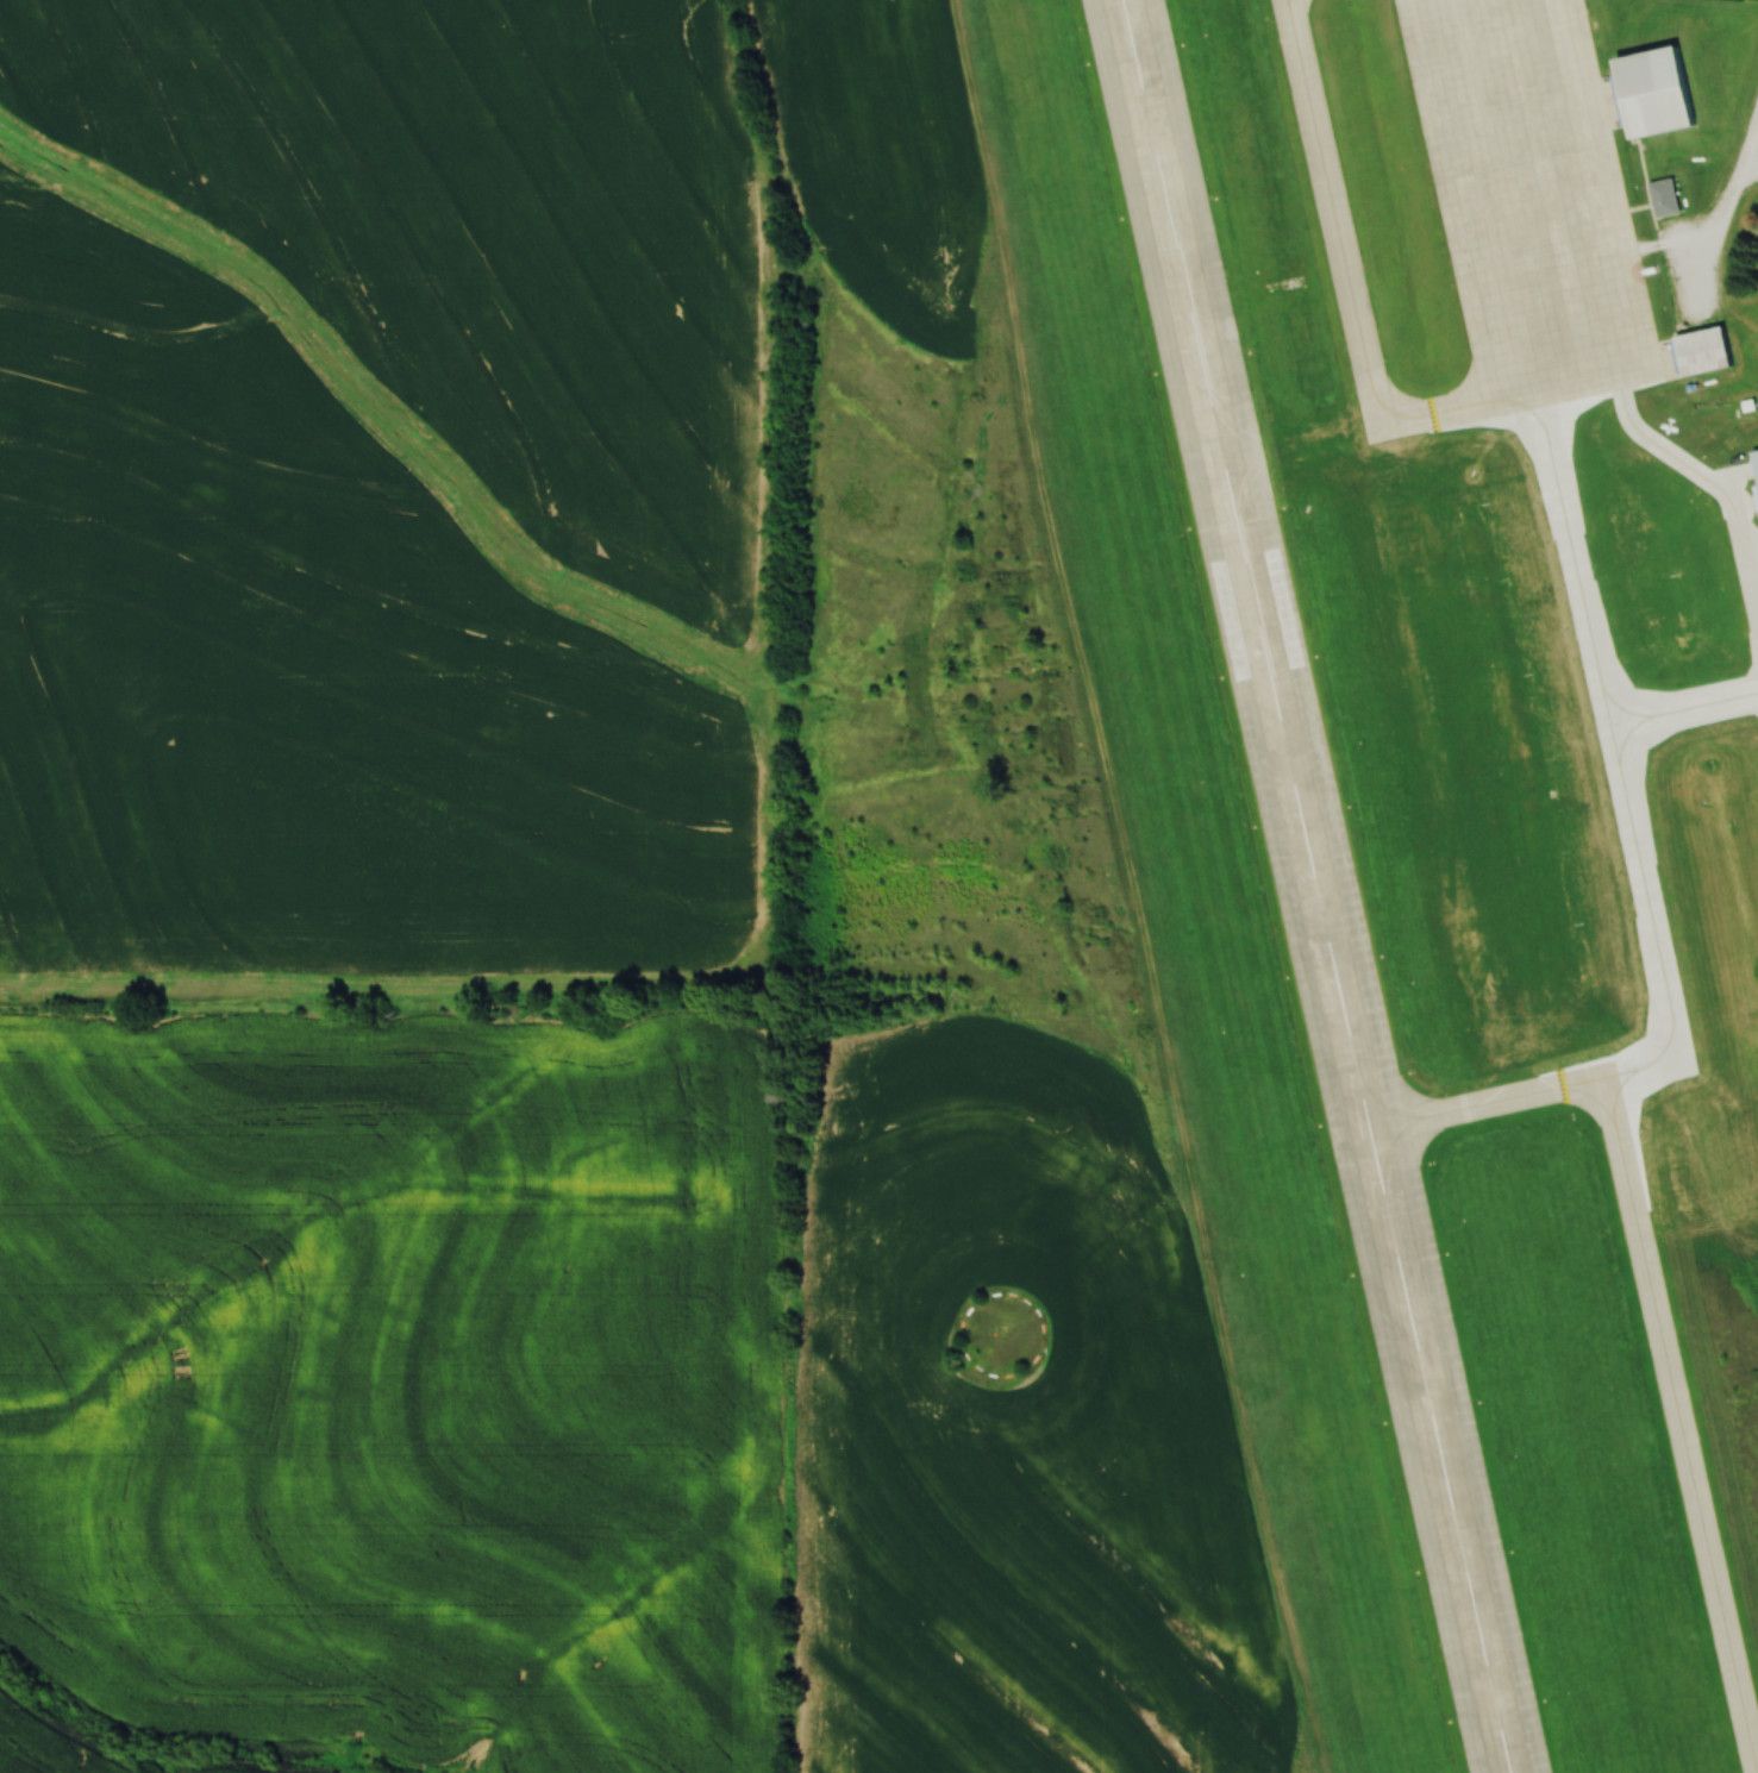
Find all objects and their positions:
airport hangar: (1656, 89)
building: (1656, 89)
road: (1753, 152)
road: (1646, 170)
road: (1735, 178)
airport taxiway: (1597, 190)
airport taxiway: (1465, 196)
airport apron: (1532, 199)
airport terminal: (1670, 200)
building: (1670, 200)
road: (1640, 206)
airport taxiway: (1334, 209)
road: (1656, 214)
parking lot: (1691, 269)
airport hangar: (1704, 350)
building: (1704, 350)
airport taxiway: (1431, 409)
airport taxiway: (1644, 430)
building: (1593, 589)
building: (1615, 693)
airport taxiway: (1679, 701)
airport taxiway: (1610, 768)
building: (1638, 794)
airport runway: (1320, 885)
airport taxiway: (1657, 1318)

